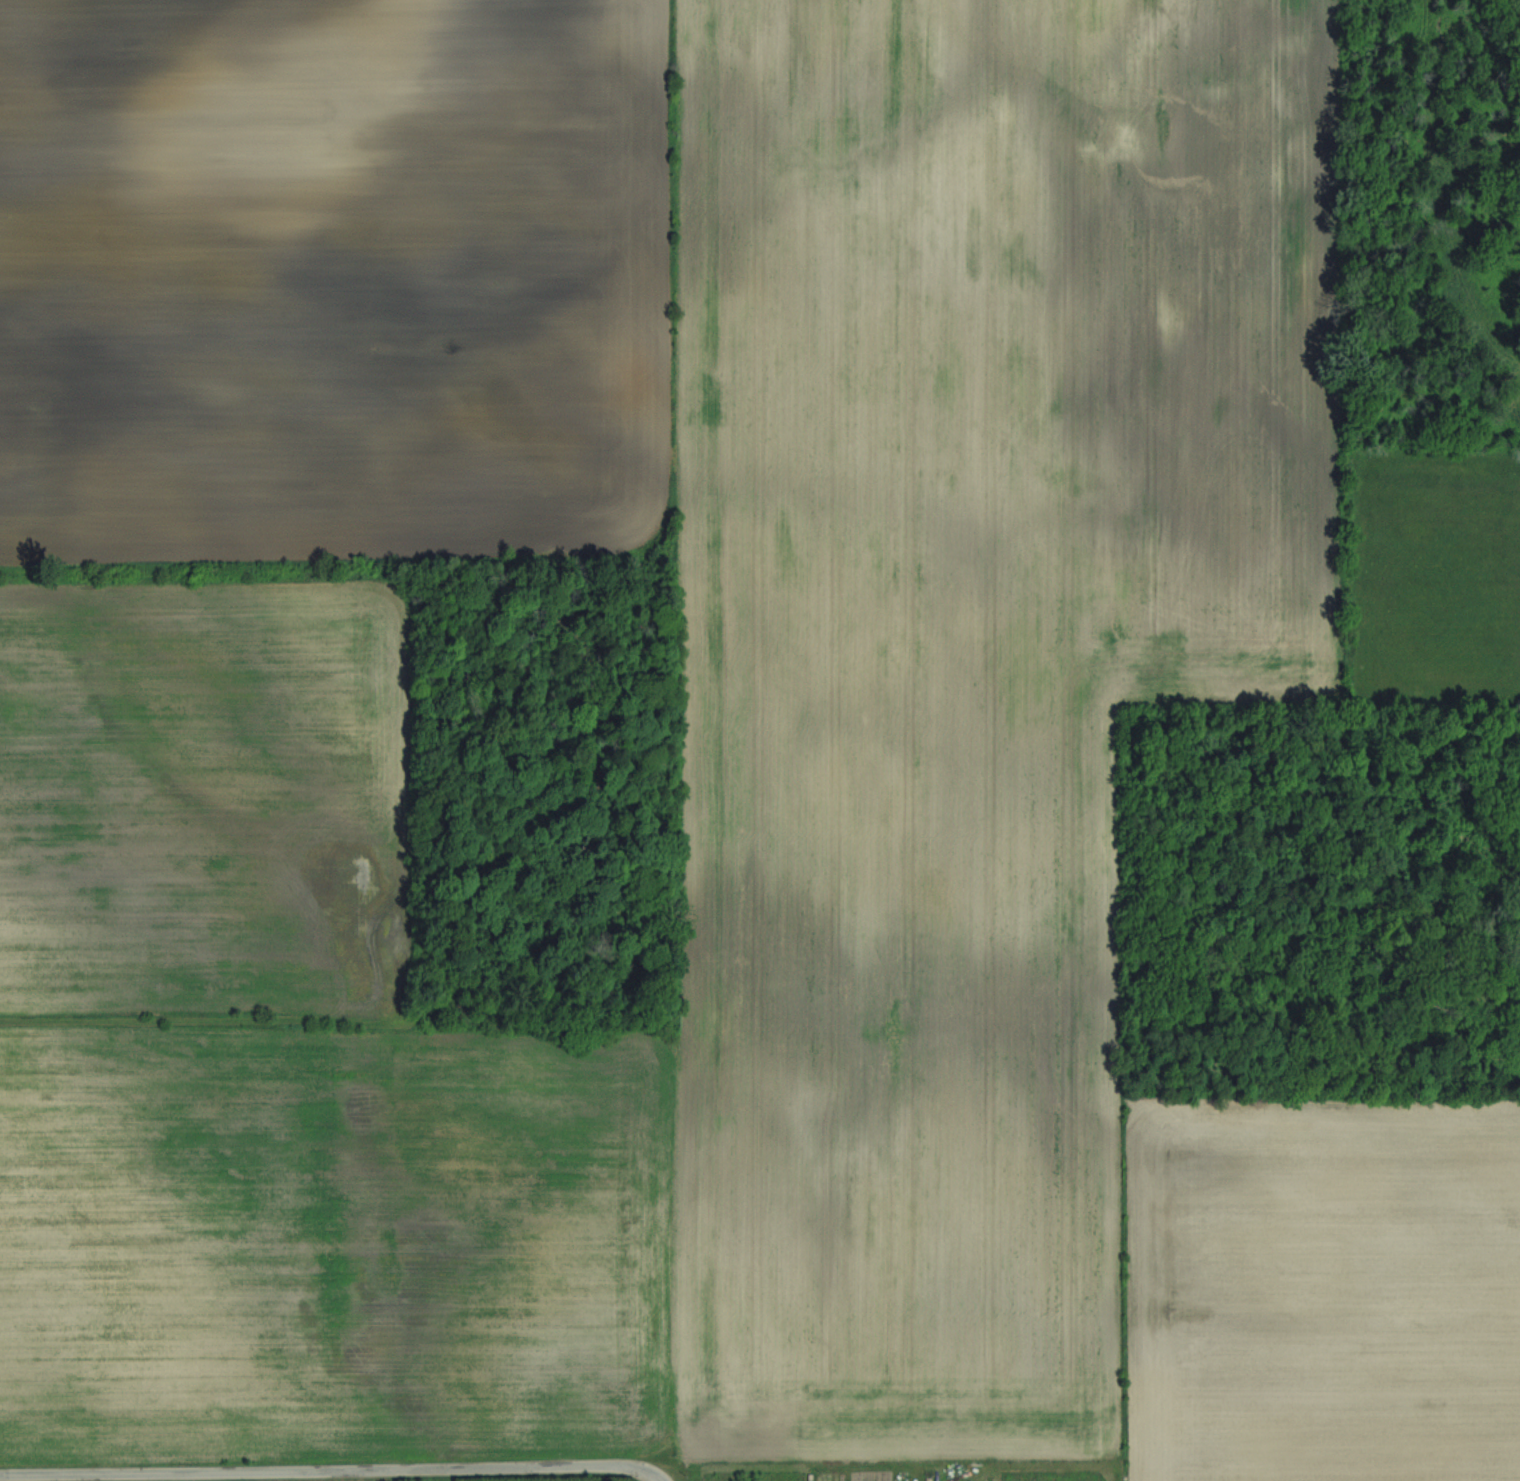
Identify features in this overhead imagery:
road: (331, 1470)

